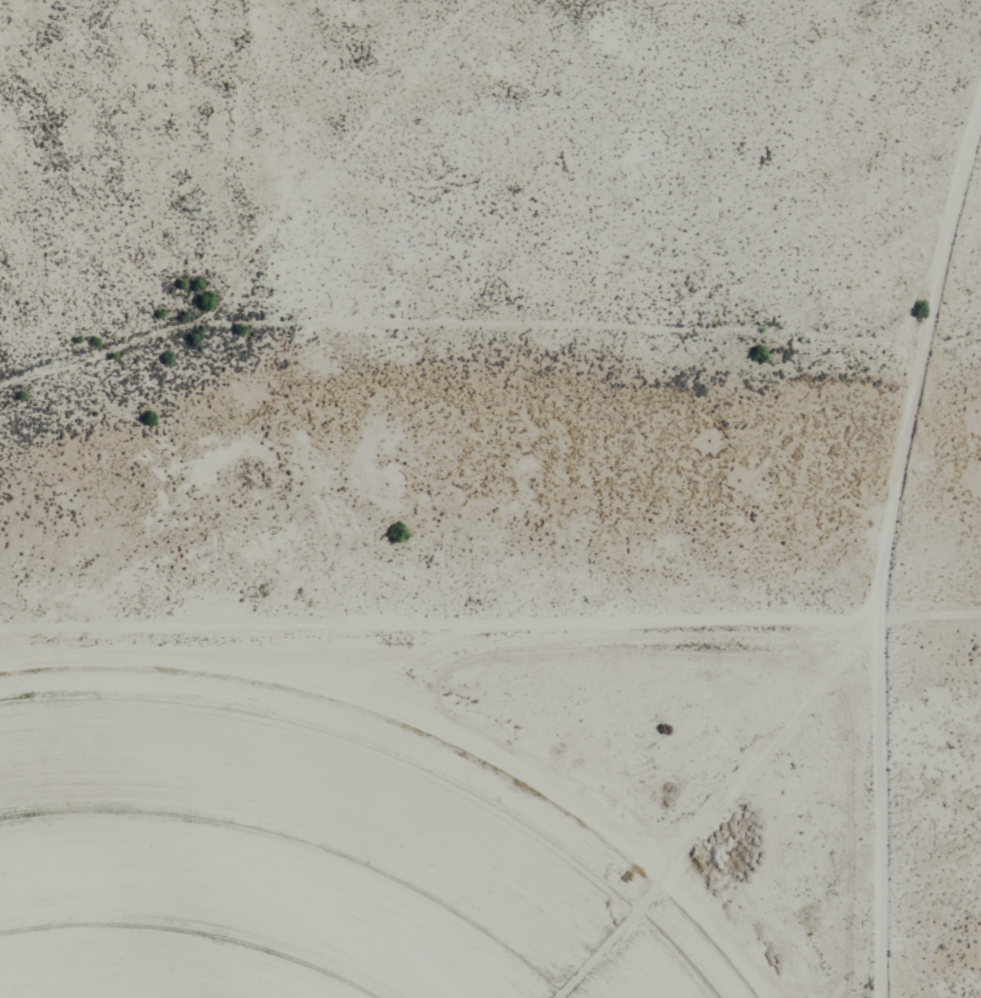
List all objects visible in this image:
road: (490, 611)
road: (878, 803)
crop: (275, 878)

